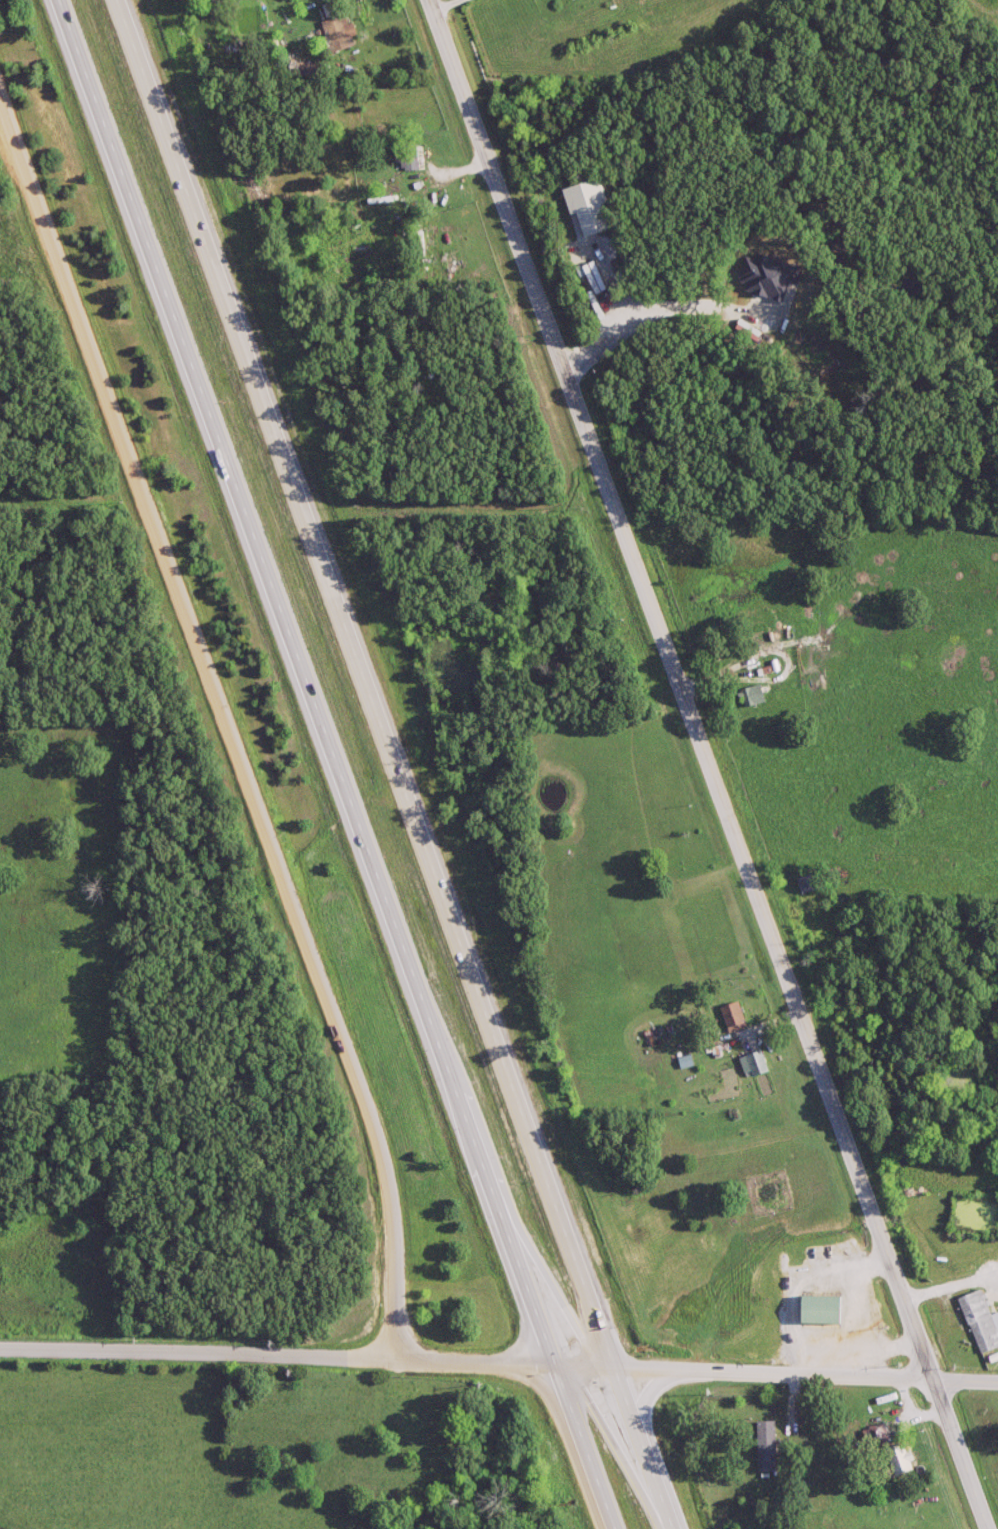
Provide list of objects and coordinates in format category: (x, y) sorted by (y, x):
road: (447, 5)
building: (335, 33)
building: (408, 169)
road: (644, 318)
building: (817, 639)
building: (752, 695)
road: (229, 736)
road: (334, 764)
road: (395, 764)
road: (709, 764)
building: (807, 883)
building: (731, 1017)
building: (684, 1061)
building: (753, 1064)
building: (817, 1310)
building: (979, 1321)
road: (499, 1365)
building: (873, 1436)
building: (764, 1447)
building: (898, 1459)

